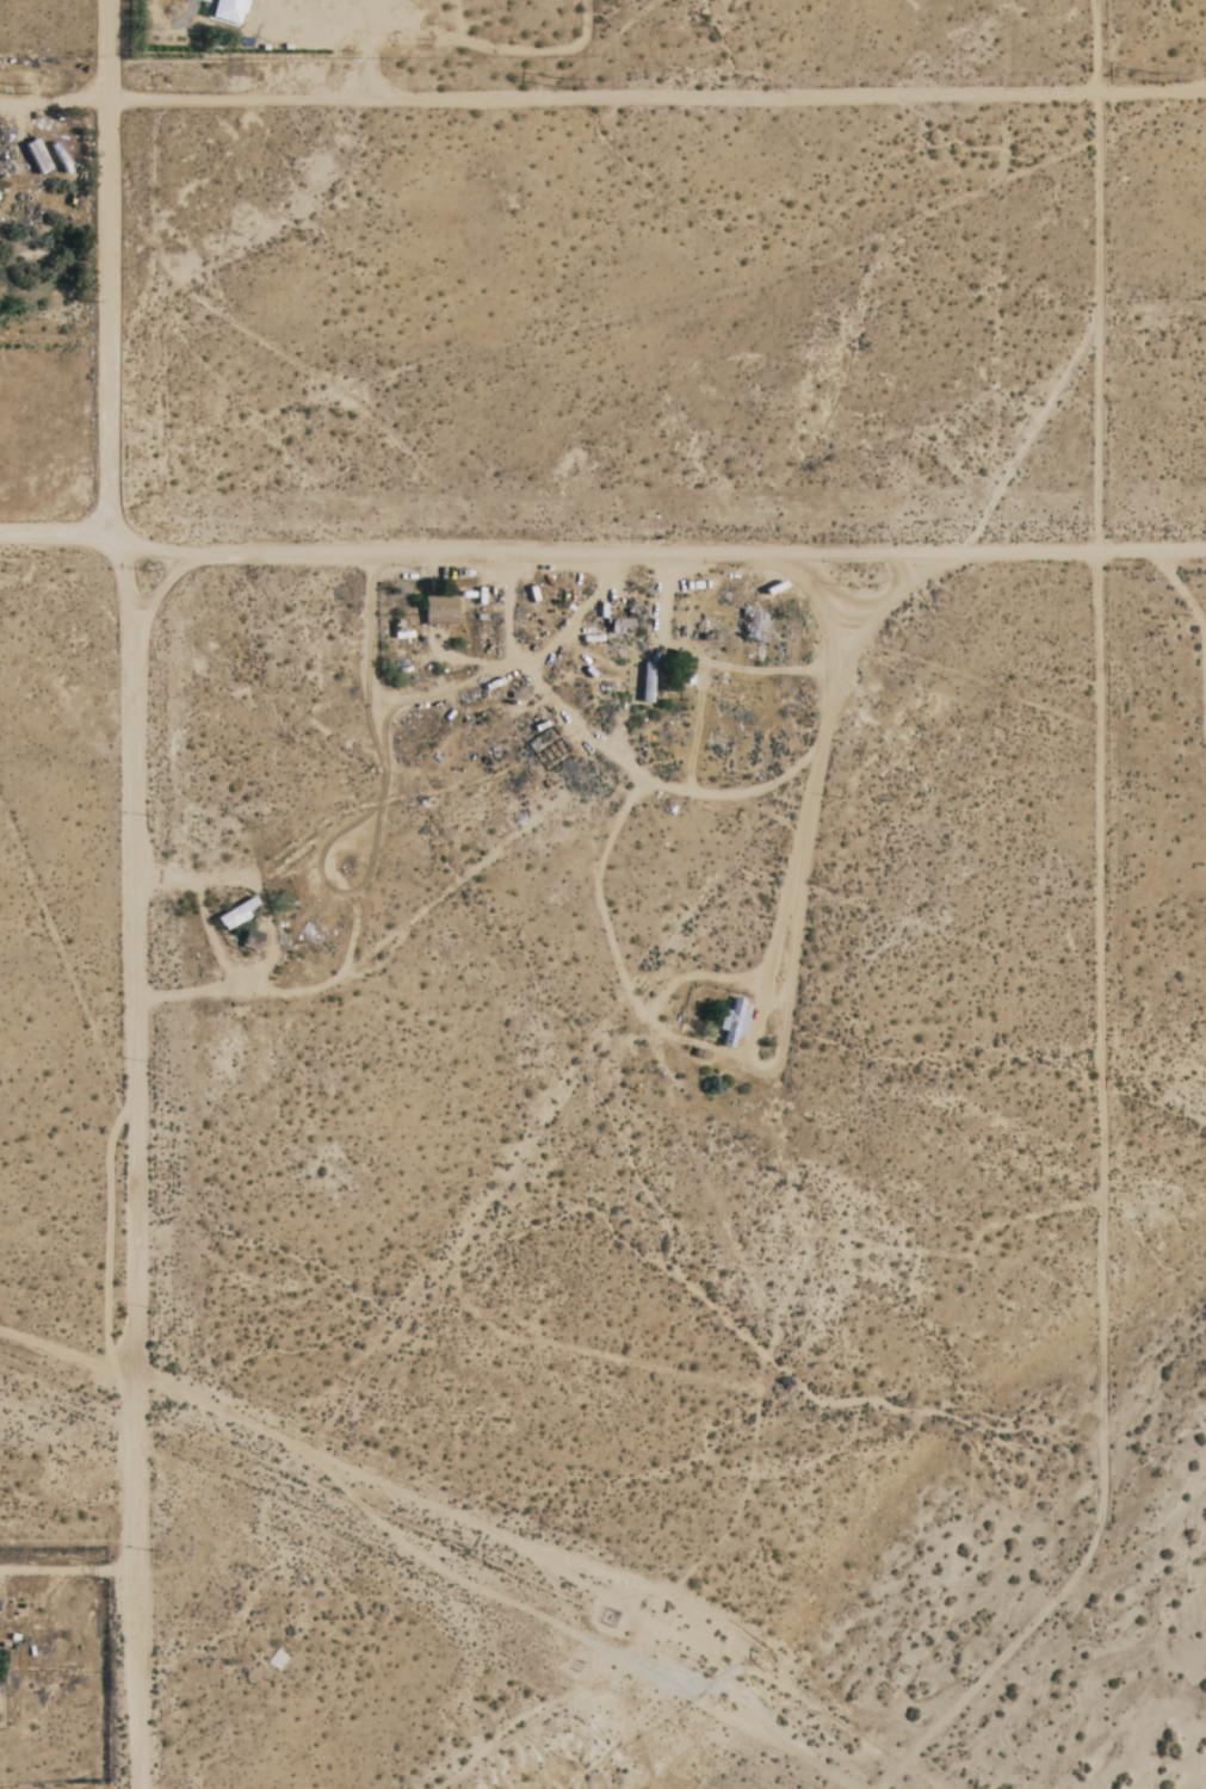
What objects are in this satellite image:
building: (230, 11)
power tower: (1159, 75)
power tower: (570, 85)
road: (1196, 87)
power tower: (23, 93)
road: (602, 99)
road: (1097, 277)
road: (54, 530)
road: (666, 552)
building: (440, 611)
road: (812, 782)
road: (131, 890)
building: (237, 914)

